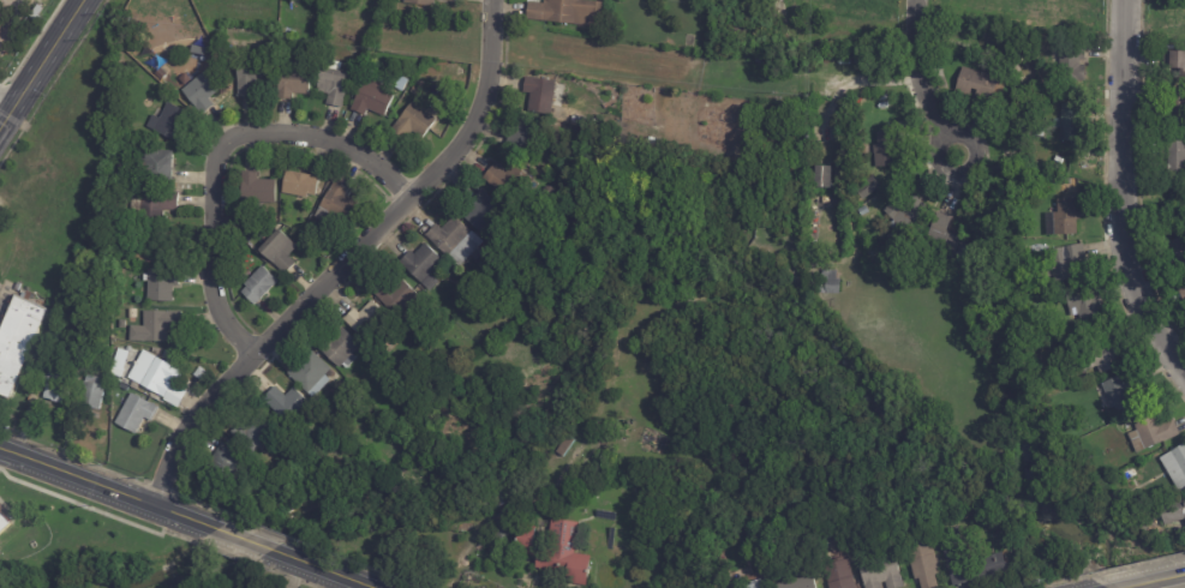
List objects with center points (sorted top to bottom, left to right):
building: (1183, 1)
building: (419, 2)
building: (563, 11)
road: (11, 19)
building: (738, 30)
building: (867, 59)
building: (1065, 59)
building: (858, 61)
road: (41, 64)
building: (1175, 64)
building: (158, 72)
building: (936, 72)
building: (249, 76)
road: (923, 78)
building: (292, 80)
road: (858, 82)
building: (333, 84)
building: (978, 84)
building: (401, 86)
building: (413, 89)
building: (202, 92)
building: (538, 95)
road: (7, 100)
building: (371, 100)
building: (1173, 107)
building: (1007, 108)
building: (1069, 122)
building: (170, 125)
building: (412, 125)
building: (521, 138)
building: (130, 145)
building: (887, 148)
road: (219, 156)
building: (1175, 156)
building: (1057, 162)
building: (156, 167)
building: (821, 176)
building: (1053, 179)
building: (505, 181)
building: (298, 185)
building: (867, 188)
building: (257, 190)
road: (1130, 197)
road: (408, 198)
building: (156, 205)
building: (517, 205)
building: (334, 208)
building: (481, 212)
building: (904, 214)
building: (1063, 218)
building: (313, 229)
building: (474, 236)
building: (941, 238)
building: (453, 241)
building: (152, 245)
building: (962, 248)
building: (277, 252)
building: (1177, 252)
building: (1064, 262)
building: (421, 265)
building: (505, 268)
building: (828, 283)
building: (161, 286)
building: (258, 286)
building: (469, 289)
building: (490, 289)
building: (1183, 293)
building: (396, 298)
building: (1085, 307)
building: (126, 314)
building: (496, 314)
building: (364, 319)
building: (97, 324)
building: (156, 325)
building: (19, 341)
building: (339, 349)
building: (1101, 354)
building: (56, 360)
building: (119, 362)
building: (310, 373)
building: (151, 374)
building: (390, 378)
building: (52, 386)
building: (1121, 390)
building: (89, 397)
building: (285, 403)
building: (134, 414)
building: (375, 420)
road: (190, 425)
building: (1150, 432)
building: (253, 433)
building: (654, 439)
building: (563, 448)
building: (298, 455)
building: (223, 464)
building: (1175, 467)
road: (106, 490)
building: (496, 500)
building: (1172, 511)
building: (1150, 512)
building: (2, 521)
building: (499, 530)
road: (243, 540)
building: (555, 552)
building: (953, 558)
building: (921, 562)
road: (319, 569)
building: (879, 572)
building: (837, 575)
road: (1154, 581)
building: (800, 583)
building: (756, 586)

